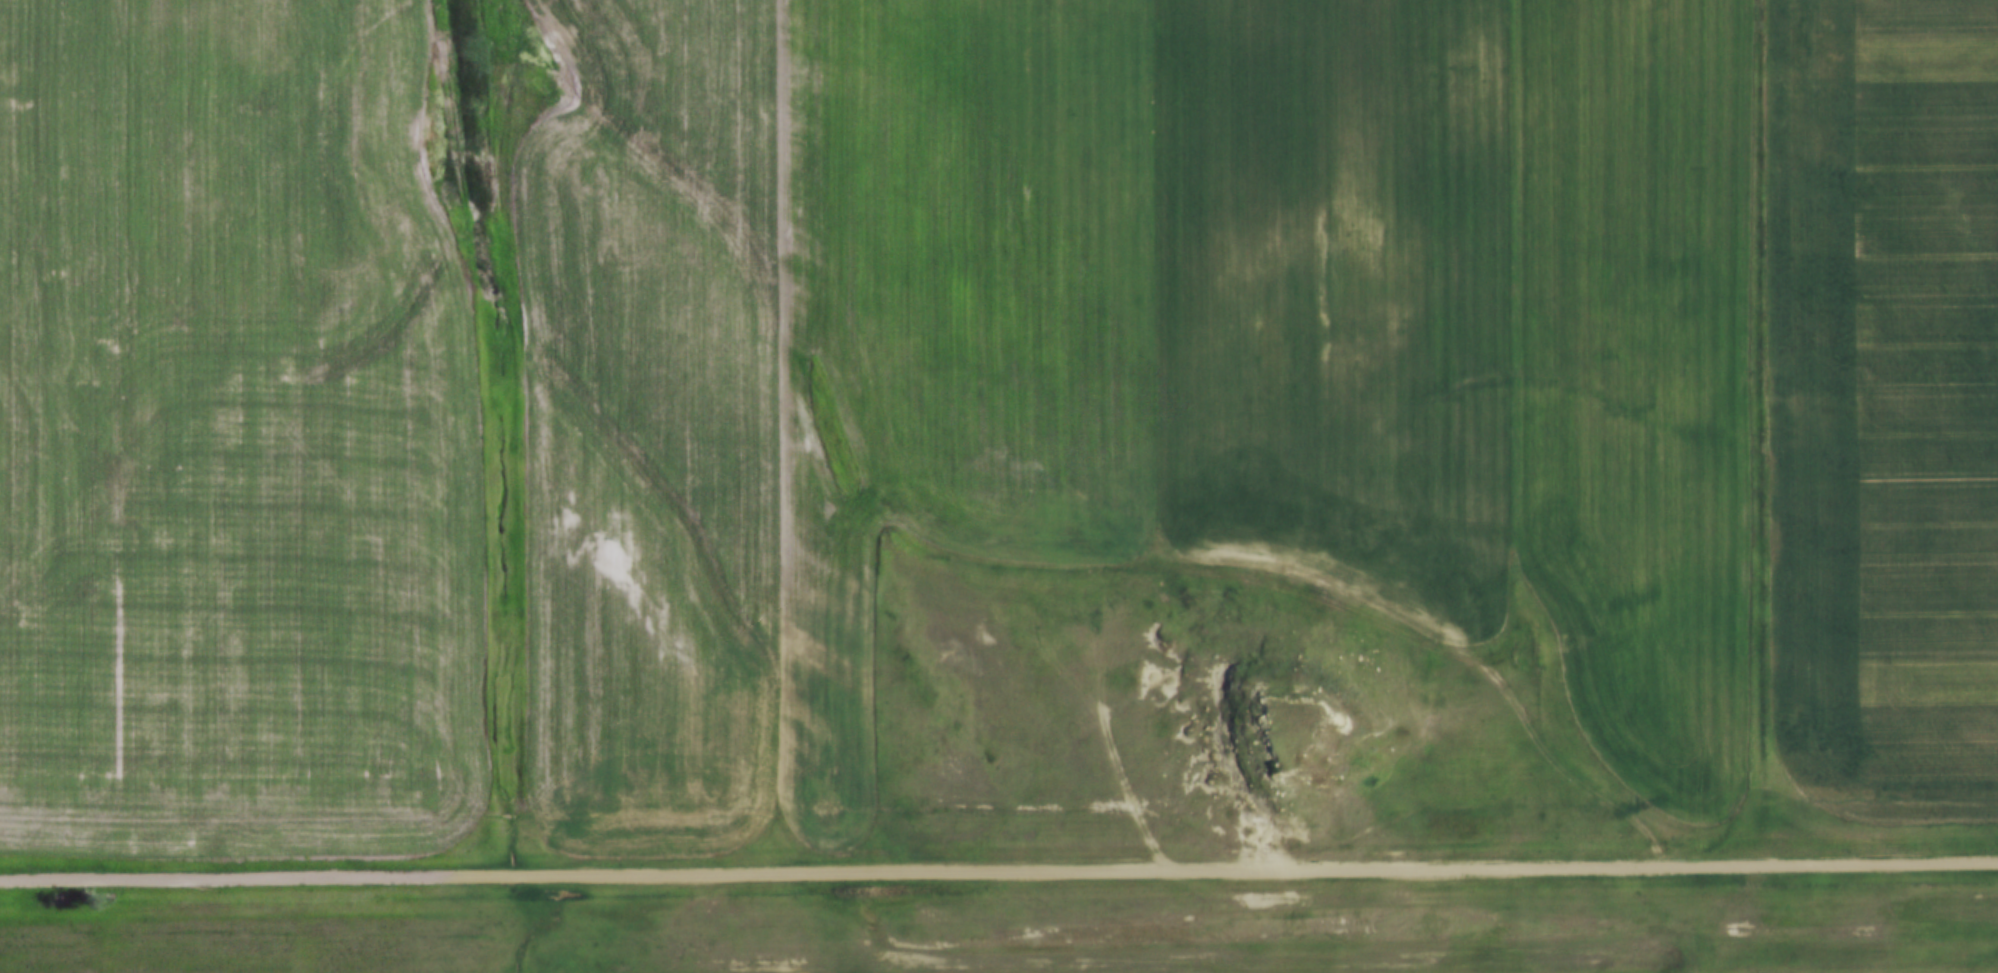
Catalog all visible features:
road: (998, 867)

